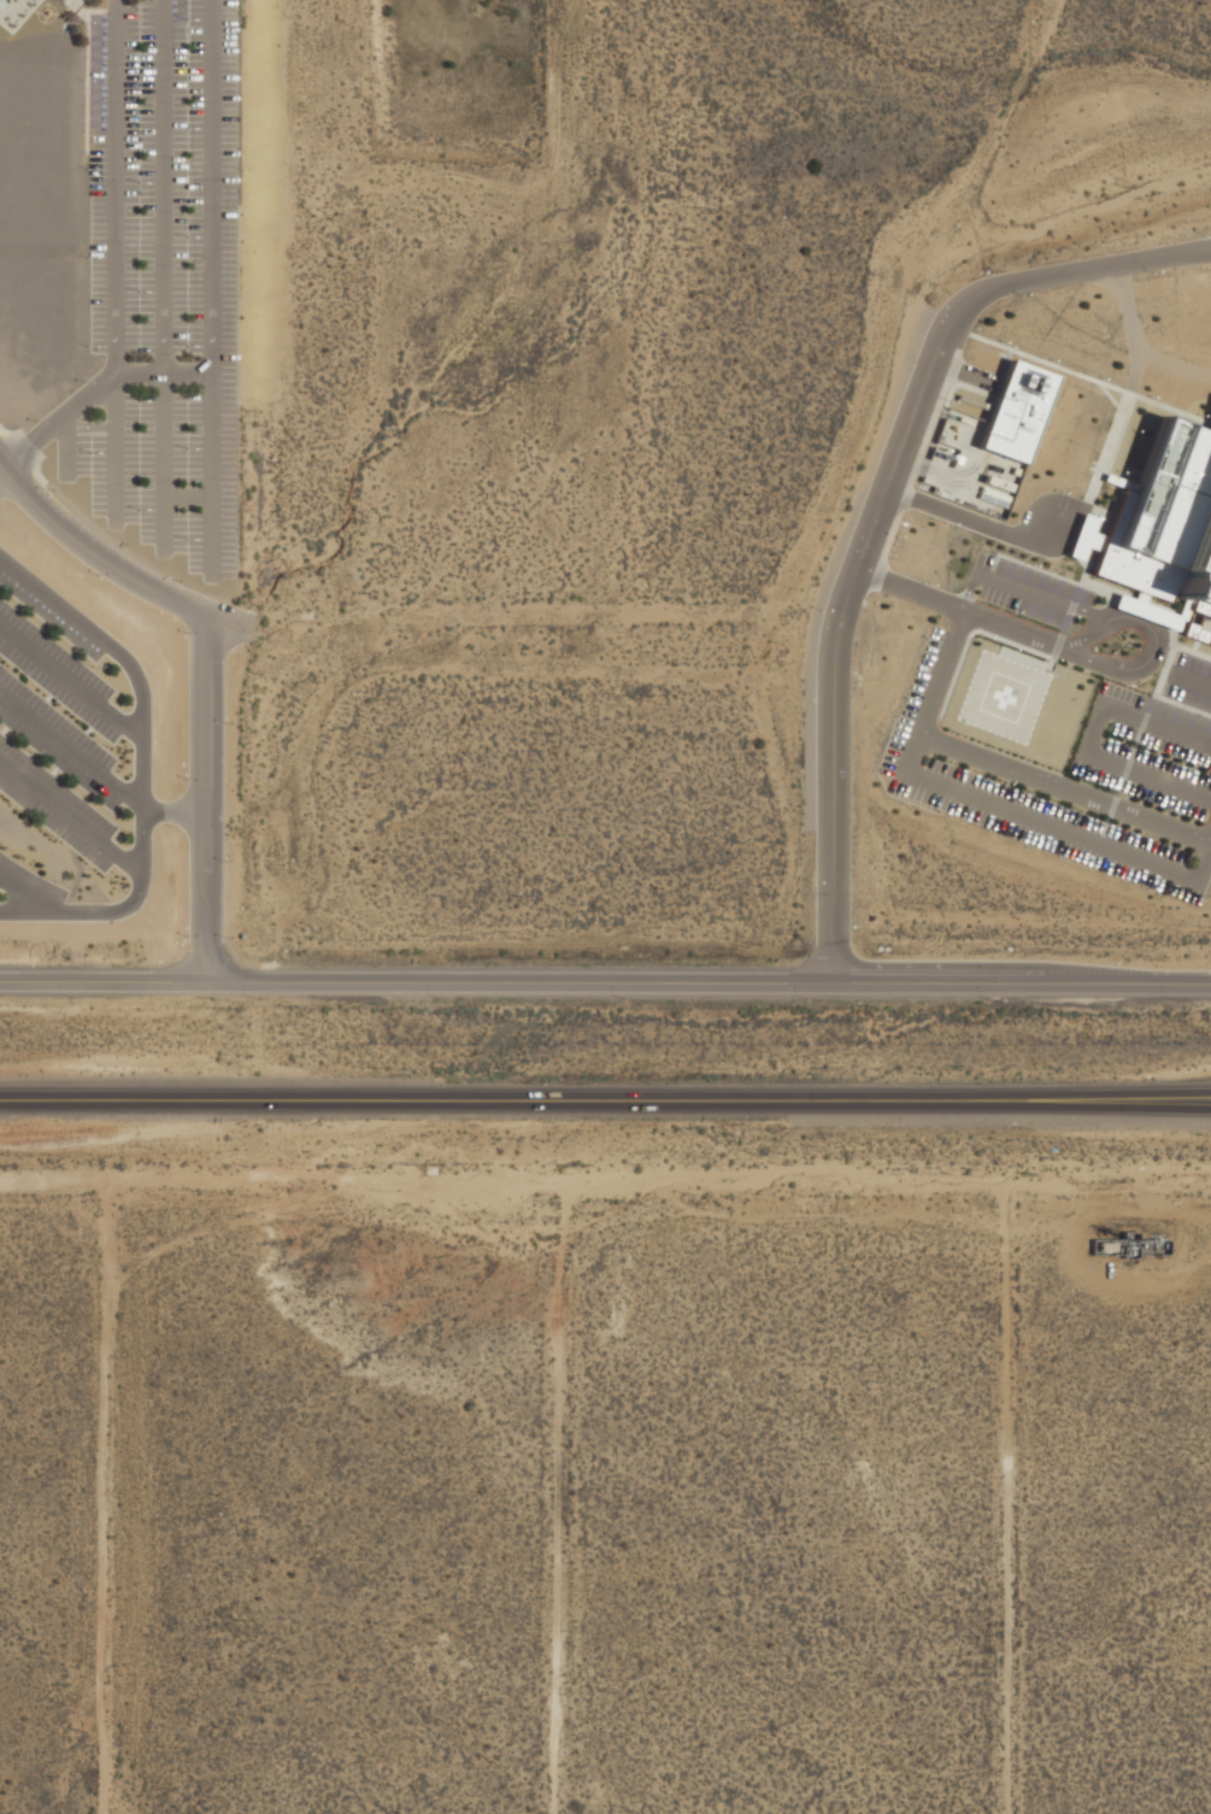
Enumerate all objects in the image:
building: (67, 1)
road: (116, 6)
road: (116, 270)
parking lot: (165, 277)
road: (160, 278)
road: (208, 290)
street lamp: (1022, 294)
road: (958, 328)
road: (1133, 335)
road: (1133, 363)
road: (963, 372)
road: (956, 377)
road: (1089, 377)
road: (959, 384)
road: (92, 391)
road: (1110, 397)
street lamp: (951, 401)
building: (1013, 412)
road: (90, 425)
road: (11, 433)
road: (8, 435)
road: (31, 440)
road: (4, 444)
road: (66, 446)
road: (1107, 447)
road: (33, 465)
road: (35, 468)
road: (1, 474)
road: (942, 475)
road: (187, 495)
road: (877, 509)
road: (972, 522)
building: (1160, 522)
road: (95, 554)
road: (1037, 569)
road: (1082, 576)
road: (970, 591)
parking lot: (1025, 591)
road: (1033, 591)
road: (54, 601)
road: (1135, 604)
road: (1133, 605)
road: (1071, 606)
road: (956, 609)
building: (1145, 610)
road: (1100, 614)
road: (1134, 617)
road: (959, 622)
road: (1062, 632)
road: (971, 634)
road: (1154, 641)
road: (1057, 645)
road: (1194, 646)
road: (1191, 650)
road: (1052, 657)
road: (1163, 670)
road: (1165, 670)
road: (1189, 679)
road: (71, 680)
helipad: (1004, 697)
road: (930, 701)
road: (1182, 704)
road: (1144, 718)
parking lot: (57, 721)
road: (1157, 721)
road: (1093, 726)
parking lot: (1153, 740)
road: (1135, 744)
road: (71, 752)
road: (1125, 768)
road: (1147, 774)
road: (1065, 787)
road: (1117, 792)
parking lot: (1019, 796)
road: (205, 799)
road: (1112, 806)
road: (174, 811)
road: (70, 815)
road: (1107, 820)
road: (1048, 826)
road: (1104, 829)
road: (143, 835)
road: (1099, 839)
road: (1204, 852)
road: (1197, 875)
parking lot: (28, 881)
road: (25, 893)
road: (104, 981)
road: (709, 981)
road: (605, 1097)
road: (1113, 1216)

